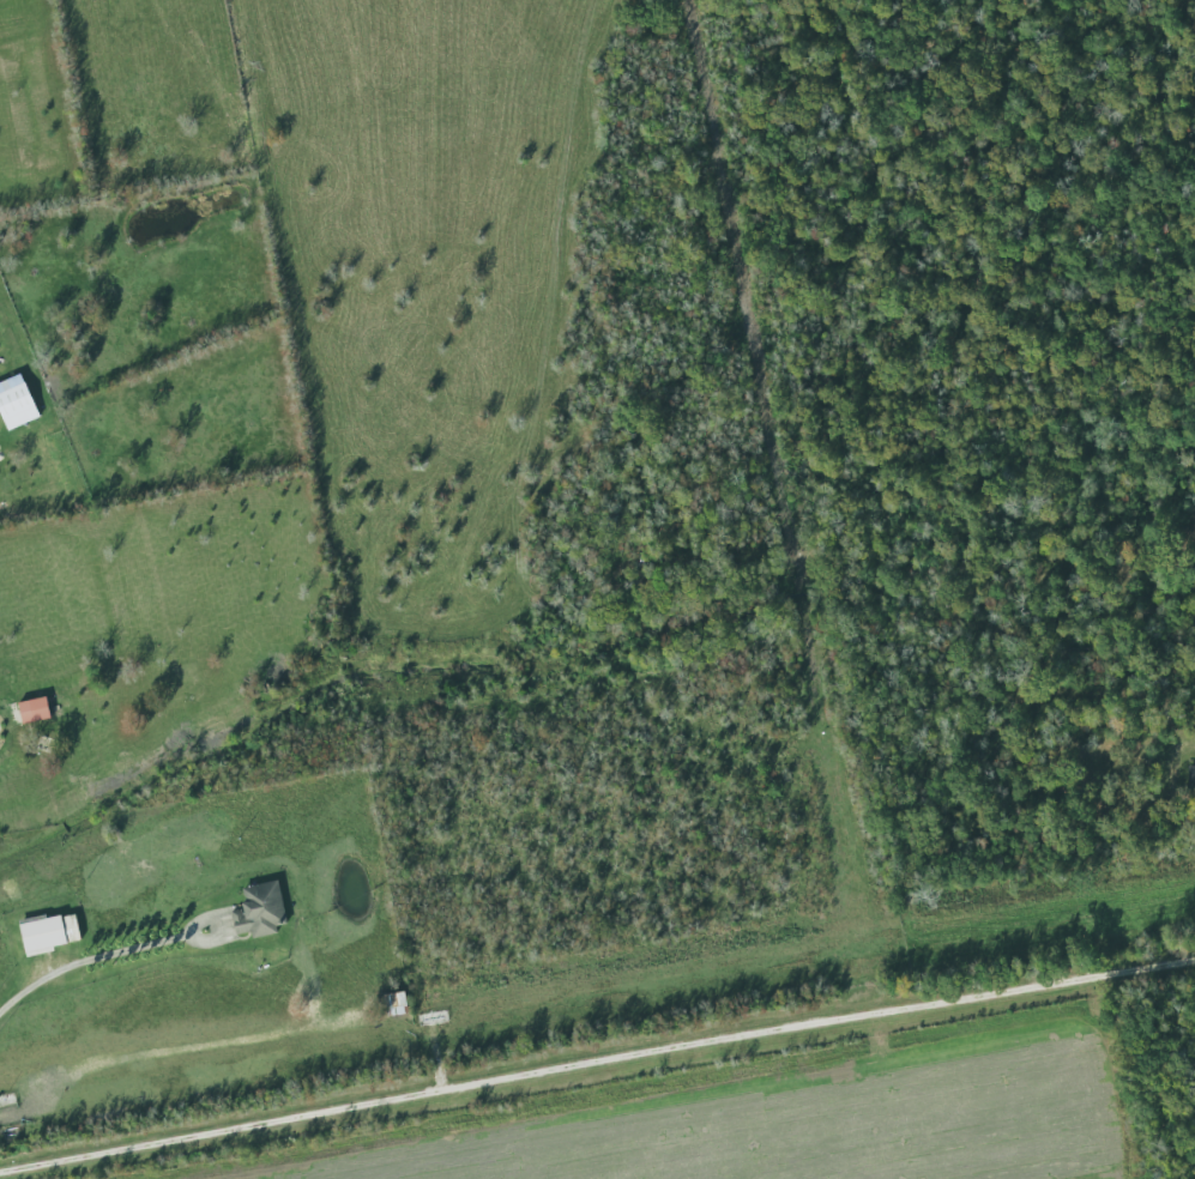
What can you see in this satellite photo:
building: (16, 403)
building: (32, 711)
building: (1190, 778)
building: (259, 911)
building: (49, 932)
road: (91, 968)
building: (394, 1004)
road: (597, 1063)

